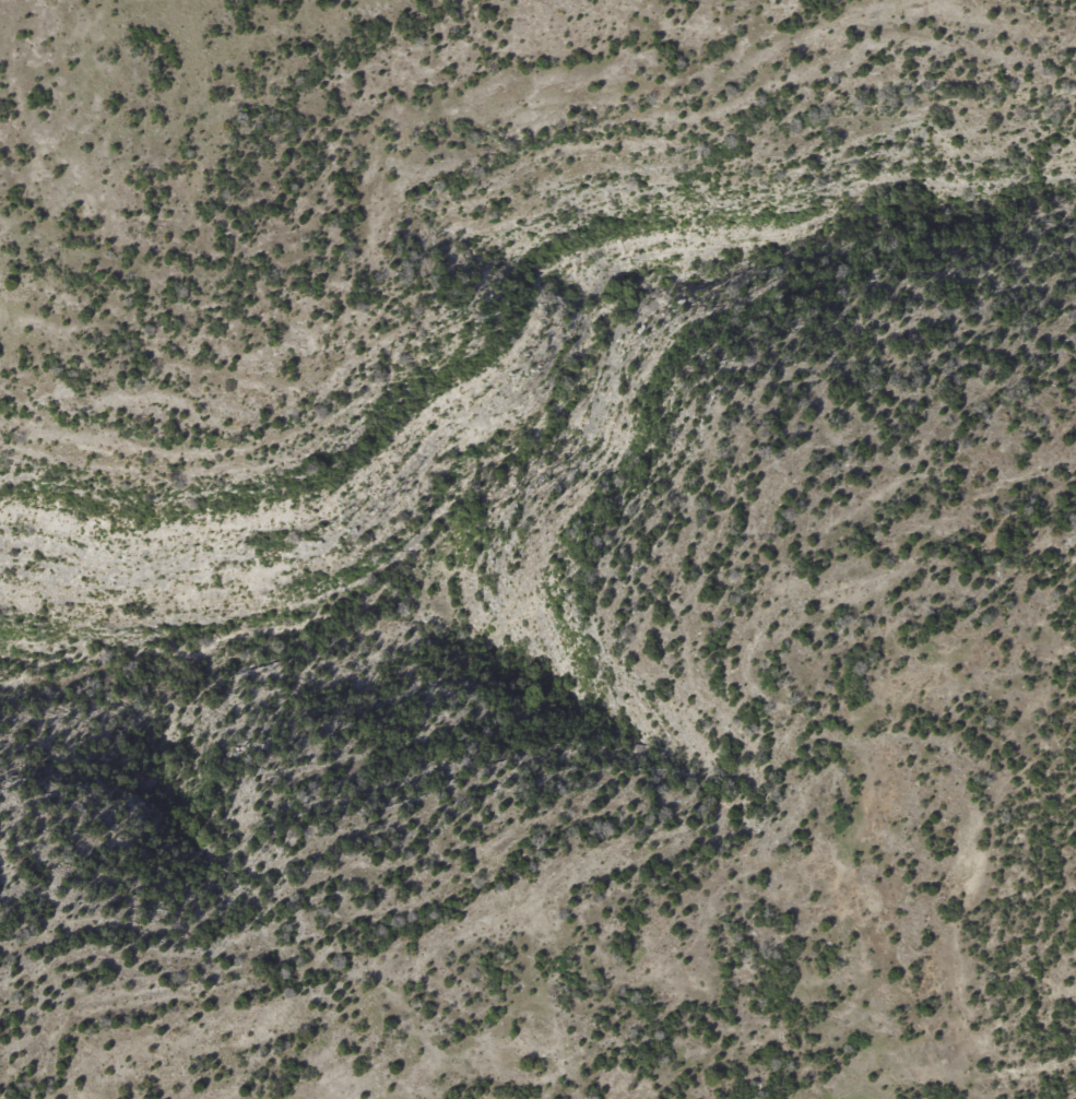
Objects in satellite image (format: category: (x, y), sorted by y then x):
road: (957, 1074)

